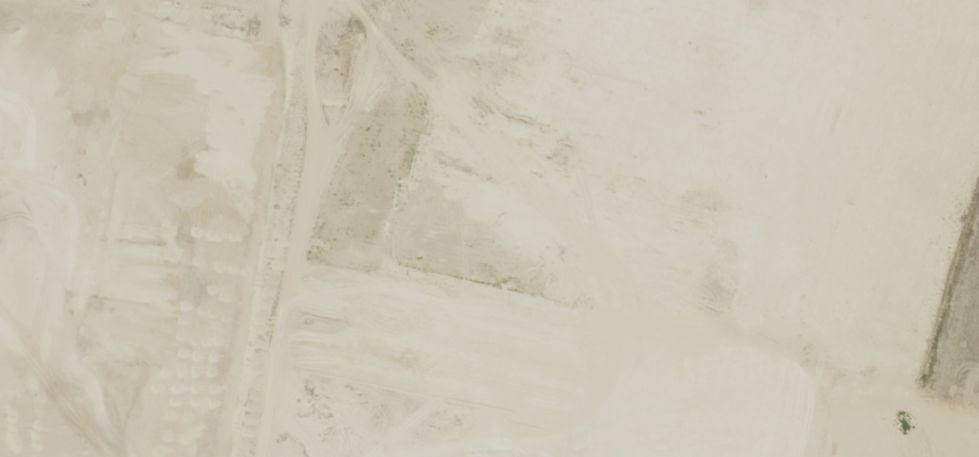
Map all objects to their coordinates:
road: (710, 228)

